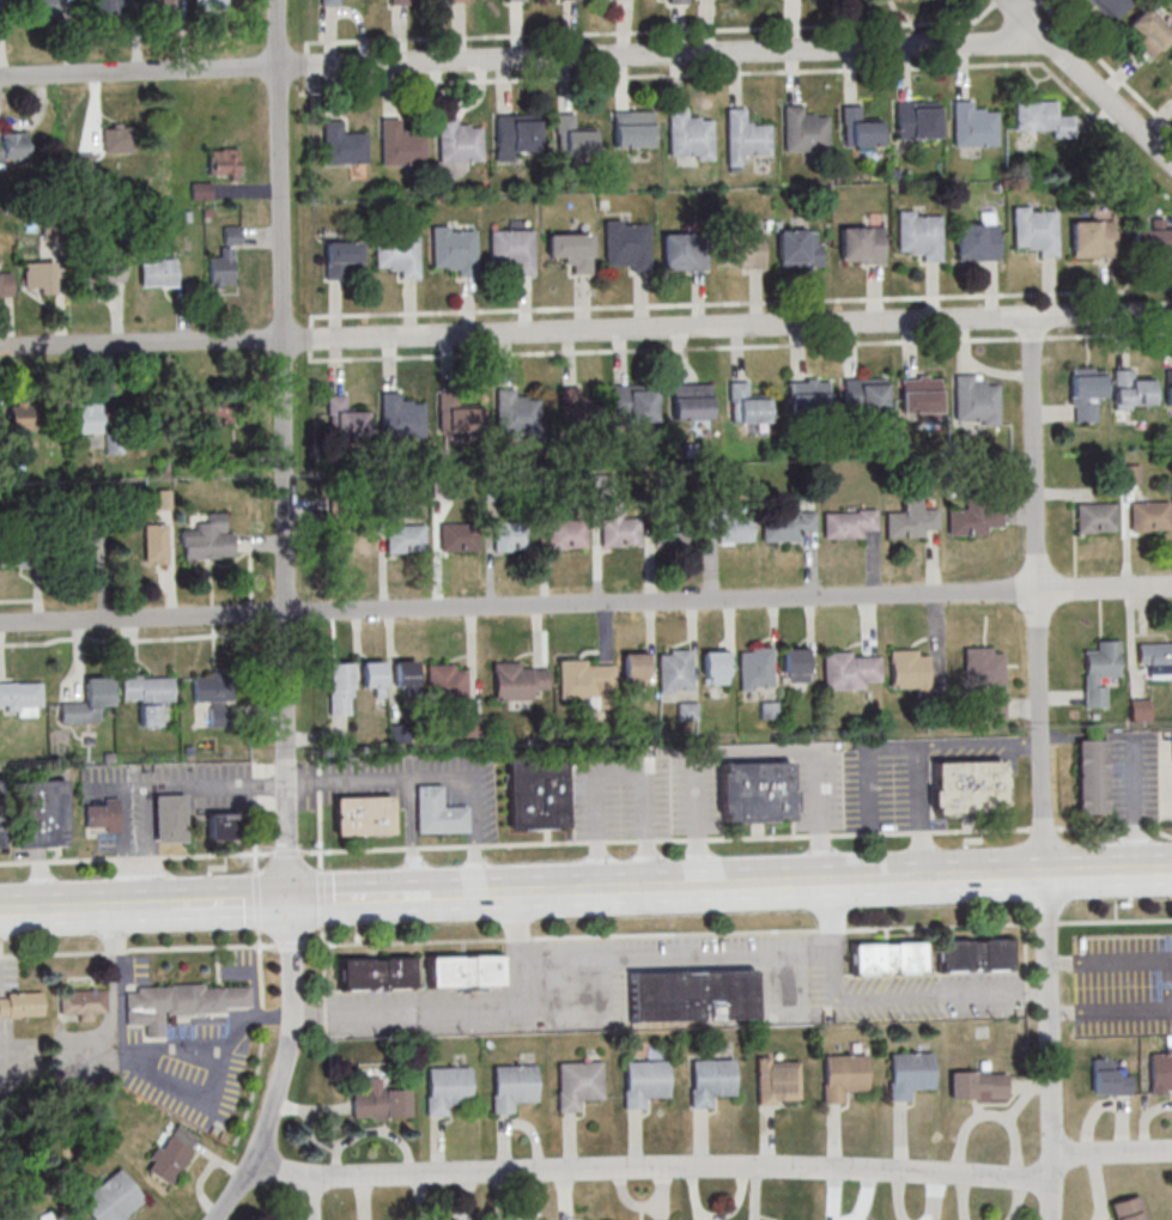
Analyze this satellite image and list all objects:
building: (457, 0)
building: (515, 0)
building: (676, 0)
building: (332, 2)
building: (209, 4)
building: (158, 5)
road: (1022, 5)
building: (1107, 6)
building: (109, 7)
building: (44, 8)
road: (1046, 8)
building: (1146, 32)
building: (1171, 55)
building: (1171, 57)
road: (523, 59)
road: (1088, 80)
building: (1042, 117)
building: (916, 120)
building: (972, 126)
building: (858, 128)
building: (632, 129)
building: (803, 131)
building: (745, 133)
building: (516, 134)
building: (688, 134)
building: (575, 136)
building: (116, 139)
building: (457, 141)
building: (341, 144)
building: (399, 144)
building: (12, 146)
building: (224, 163)
building: (1037, 231)
building: (231, 233)
building: (919, 236)
building: (1092, 238)
building: (1153, 239)
building: (977, 242)
building: (861, 243)
building: (626, 245)
building: (741, 248)
building: (798, 248)
building: (511, 249)
building: (570, 249)
building: (455, 251)
building: (684, 251)
building: (396, 253)
building: (342, 259)
building: (113, 269)
building: (221, 269)
building: (158, 272)
building: (38, 278)
building: (5, 285)
road: (585, 330)
building: (1085, 388)
building: (1167, 388)
building: (1132, 389)
building: (808, 394)
building: (866, 395)
building: (919, 396)
building: (692, 401)
building: (974, 401)
building: (634, 402)
building: (747, 403)
building: (575, 406)
building: (215, 407)
building: (464, 413)
building: (517, 414)
building: (402, 417)
building: (19, 418)
building: (89, 418)
building: (346, 418)
building: (115, 429)
building: (1130, 474)
building: (1148, 515)
building: (1094, 517)
building: (971, 520)
building: (909, 522)
building: (846, 523)
building: (785, 526)
building: (734, 528)
building: (673, 530)
building: (619, 532)
building: (565, 533)
building: (511, 534)
building: (457, 536)
building: (403, 538)
building: (208, 539)
building: (346, 540)
building: (75, 542)
building: (156, 544)
building: (14, 554)
road: (286, 583)
road: (585, 603)
building: (1154, 655)
building: (794, 664)
building: (715, 666)
building: (754, 667)
building: (634, 668)
building: (909, 668)
building: (674, 669)
building: (848, 669)
building: (1098, 670)
building: (406, 673)
building: (374, 675)
building: (447, 679)
building: (984, 679)
building: (512, 680)
building: (587, 682)
building: (340, 687)
building: (148, 694)
building: (22, 698)
building: (218, 698)
building: (83, 709)
building: (1140, 709)
building: (474, 726)
road: (979, 742)
road: (755, 754)
road: (1042, 769)
road: (618, 771)
road: (401, 776)
building: (1089, 776)
road: (187, 787)
building: (967, 788)
building: (542, 790)
building: (755, 793)
road: (409, 796)
building: (0, 812)
building: (437, 812)
road: (921, 812)
building: (40, 814)
building: (360, 815)
building: (102, 817)
road: (255, 817)
building: (170, 819)
building: (223, 826)
road: (320, 830)
road: (587, 842)
building: (0, 844)
road: (151, 846)
road: (126, 848)
road: (474, 855)
road: (412, 857)
road: (1107, 872)
road: (746, 885)
road: (429, 897)
road: (321, 899)
road: (348, 899)
road: (256, 900)
traffic signals: (290, 902)
road: (231, 903)
road: (144, 906)
road: (57, 910)
road: (516, 927)
road: (585, 936)
building: (974, 954)
building: (886, 958)
road: (572, 959)
road: (1071, 961)
road: (1134, 961)
building: (466, 971)
building: (376, 973)
road: (828, 977)
road: (323, 983)
building: (691, 995)
road: (940, 996)
building: (20, 1003)
building: (83, 1003)
building: (181, 1003)
road: (1132, 1008)
road: (1071, 1009)
road: (261, 1037)
building: (1160, 1070)
building: (909, 1074)
building: (842, 1076)
building: (1110, 1079)
building: (710, 1080)
building: (778, 1080)
building: (644, 1082)
building: (578, 1084)
building: (978, 1085)
building: (512, 1086)
building: (445, 1089)
building: (378, 1101)
building: (171, 1154)
road: (1112, 1154)
road: (681, 1167)
road: (280, 1170)
road: (235, 1191)
building: (113, 1197)
road: (310, 1200)
building: (1127, 1209)
building: (63, 1218)
building: (26, 1219)

